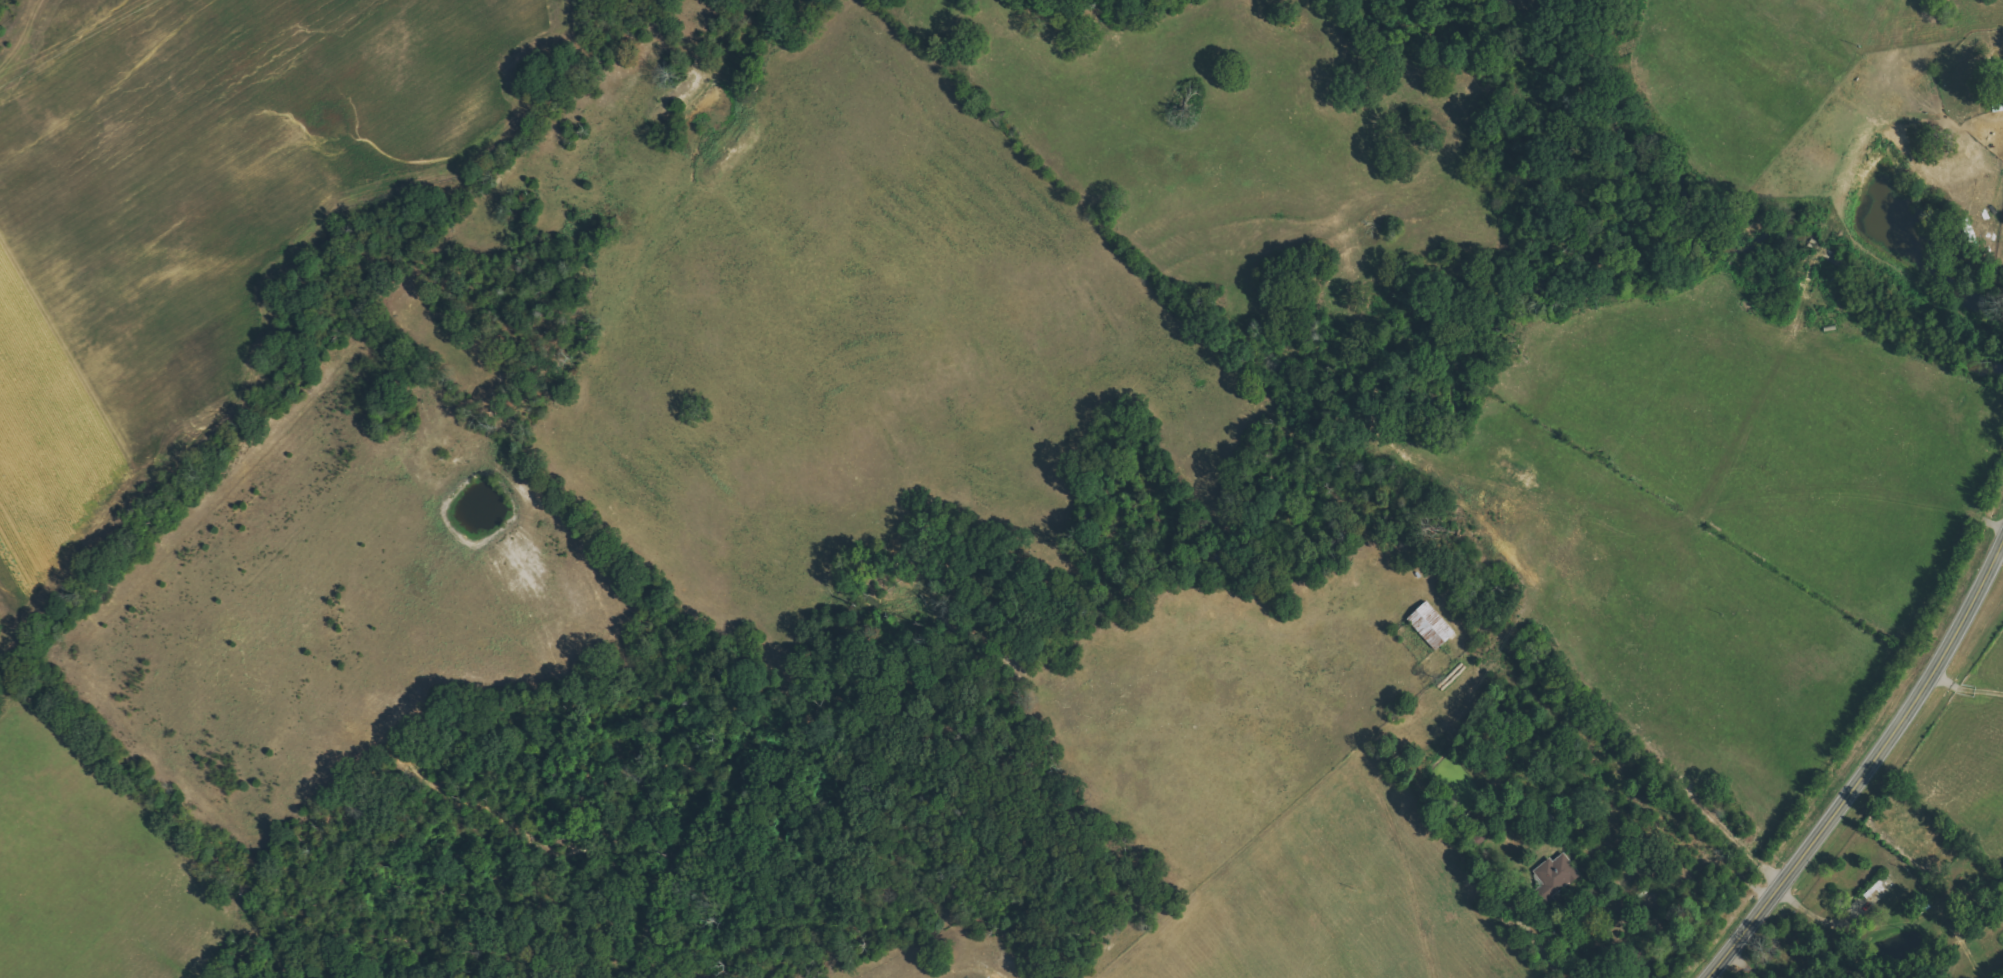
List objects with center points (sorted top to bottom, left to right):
building: (1435, 626)
road: (1866, 775)
building: (1557, 872)
road: (1916, 880)
road: (1743, 961)

